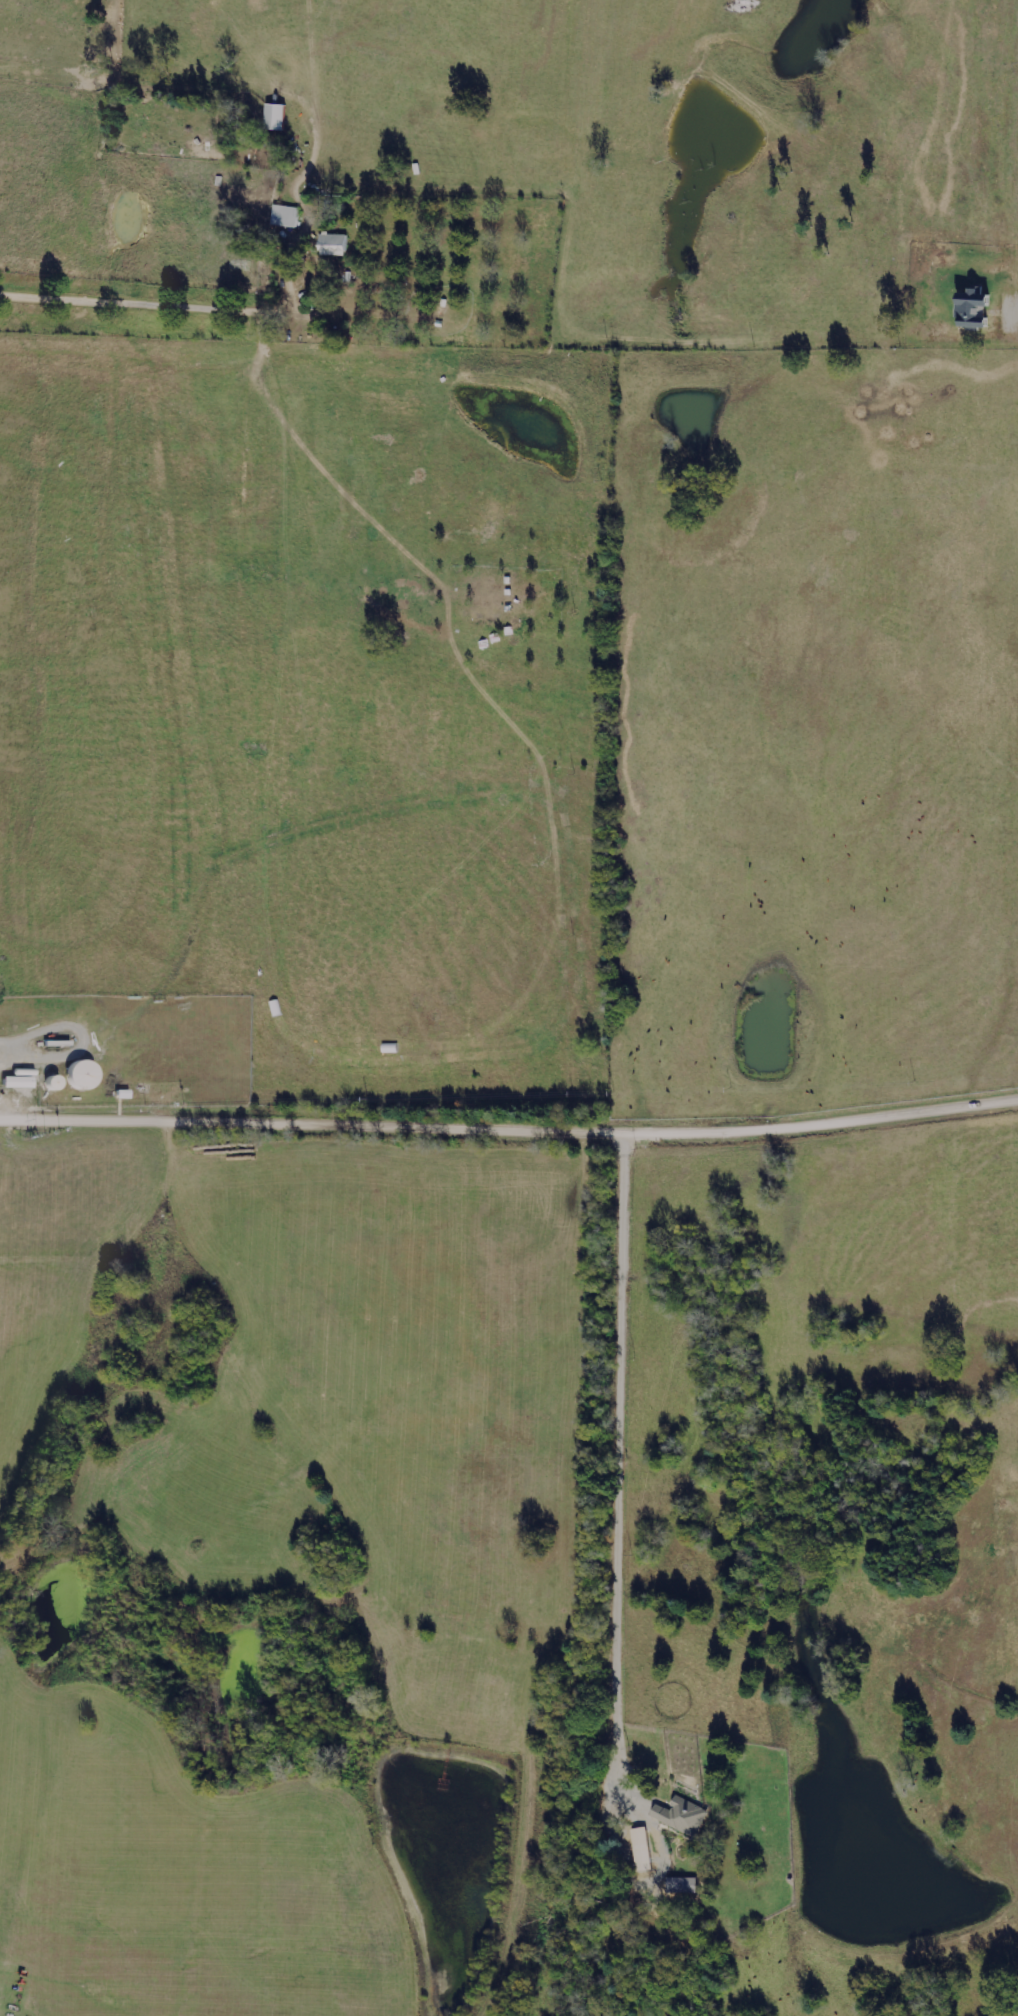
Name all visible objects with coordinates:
building: (276, 116)
building: (334, 244)
road: (152, 285)
building: (974, 309)
building: (81, 1074)
building: (17, 1082)
road: (509, 1107)
road: (615, 1439)
building: (683, 1815)
building: (643, 1849)

